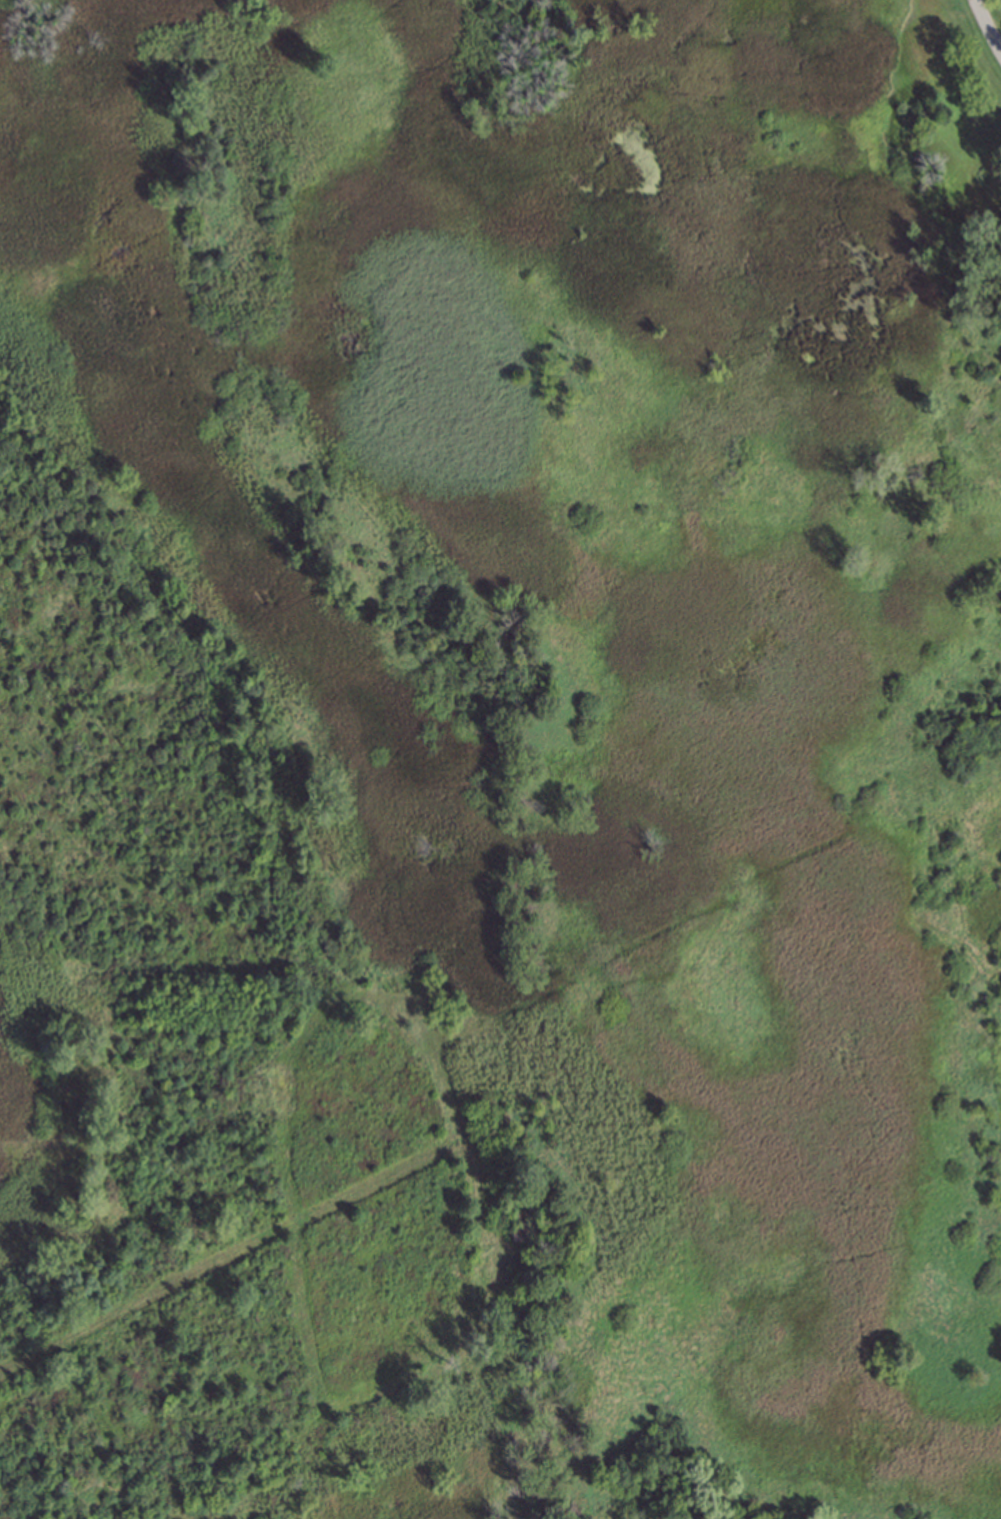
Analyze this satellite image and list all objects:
road: (989, 25)

